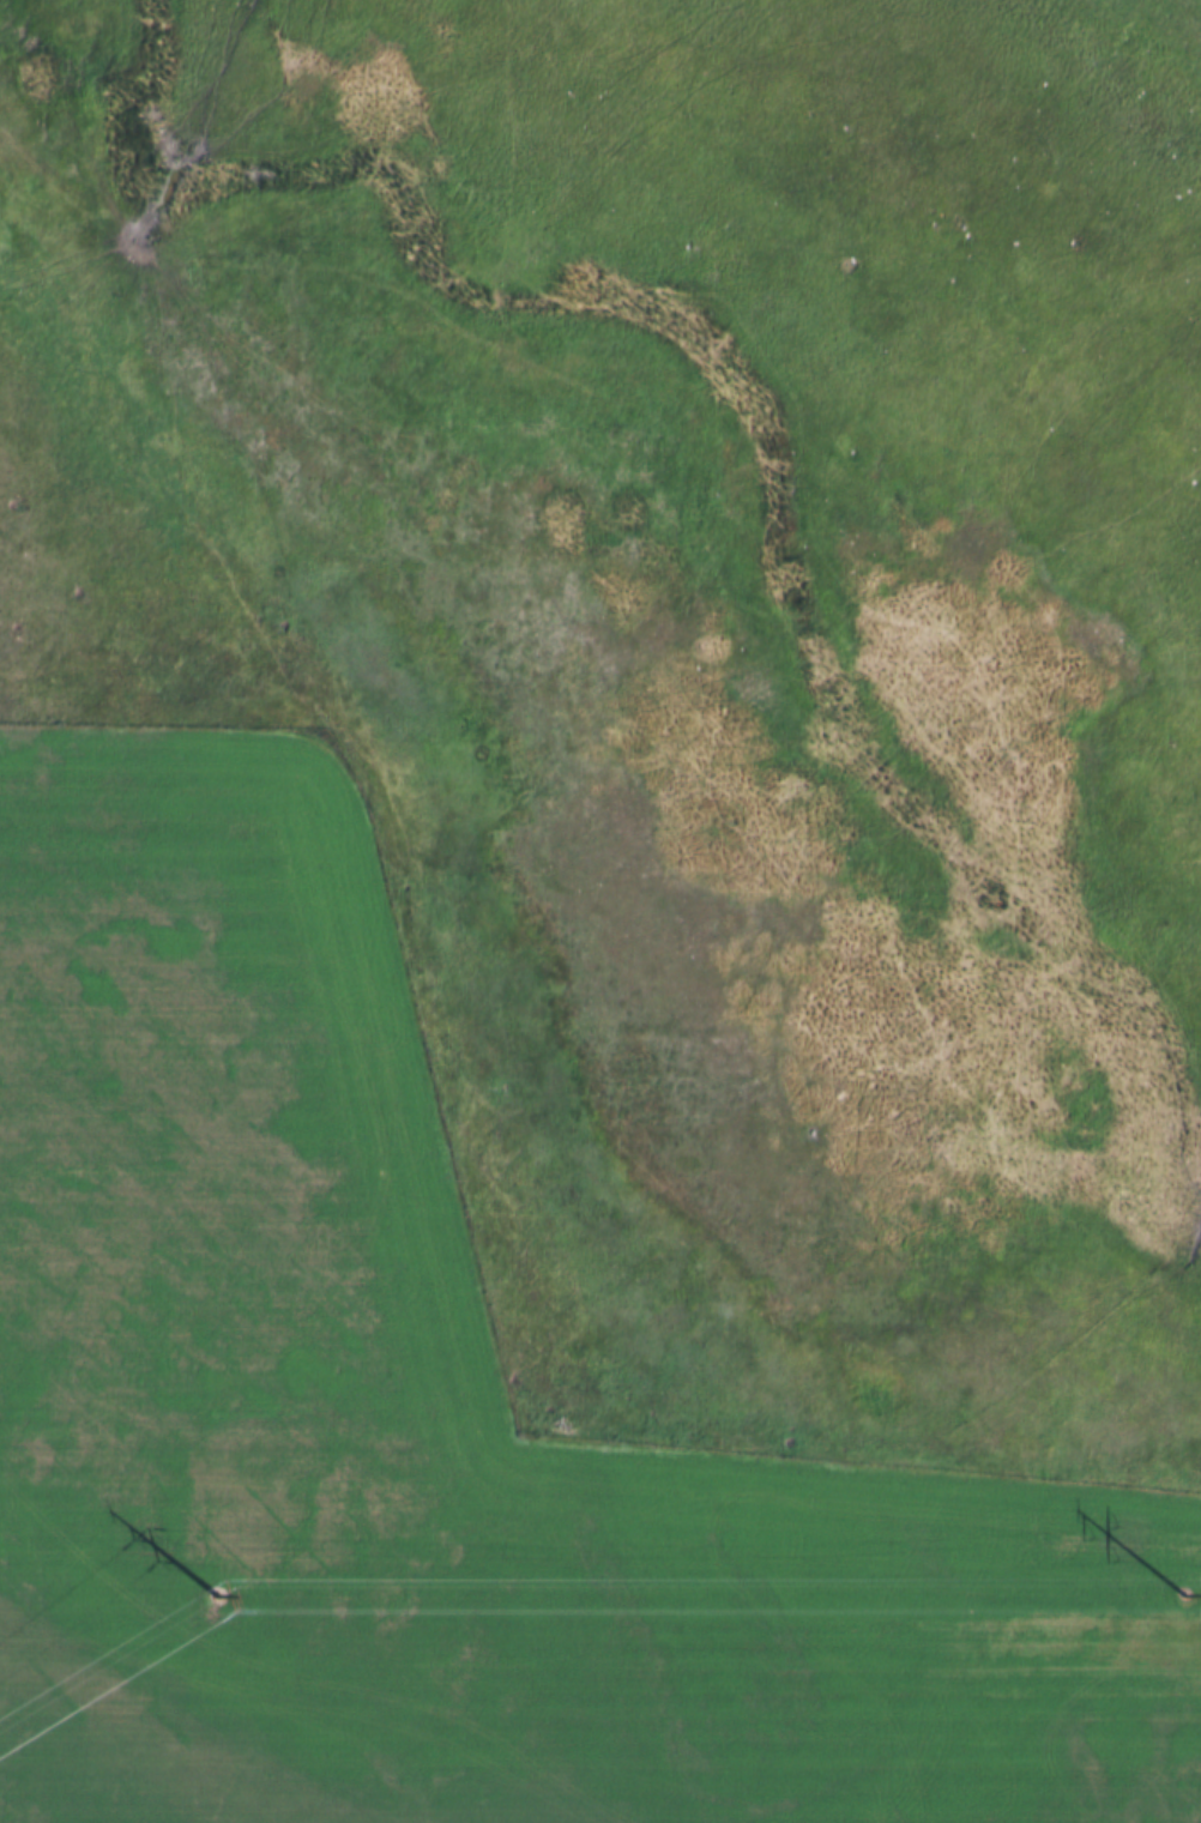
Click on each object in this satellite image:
power tower: (1181, 1586)
power tower: (215, 1590)

